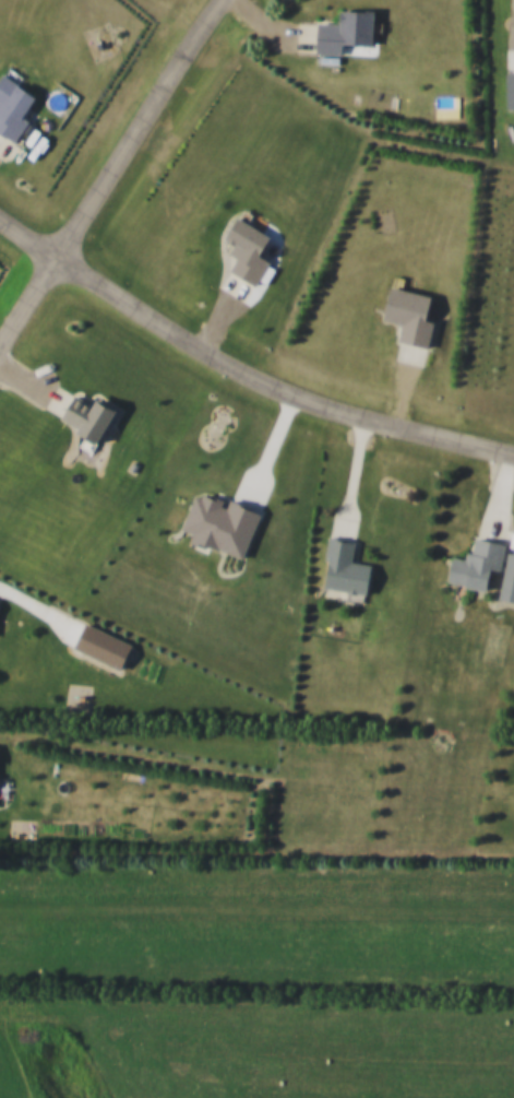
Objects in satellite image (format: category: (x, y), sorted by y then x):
building: (342, 31)
building: (509, 88)
building: (12, 108)
road: (112, 176)
building: (244, 250)
building: (406, 315)
road: (240, 375)
building: (84, 417)
building: (474, 564)
building: (342, 568)
building: (506, 580)
road: (256, 864)

